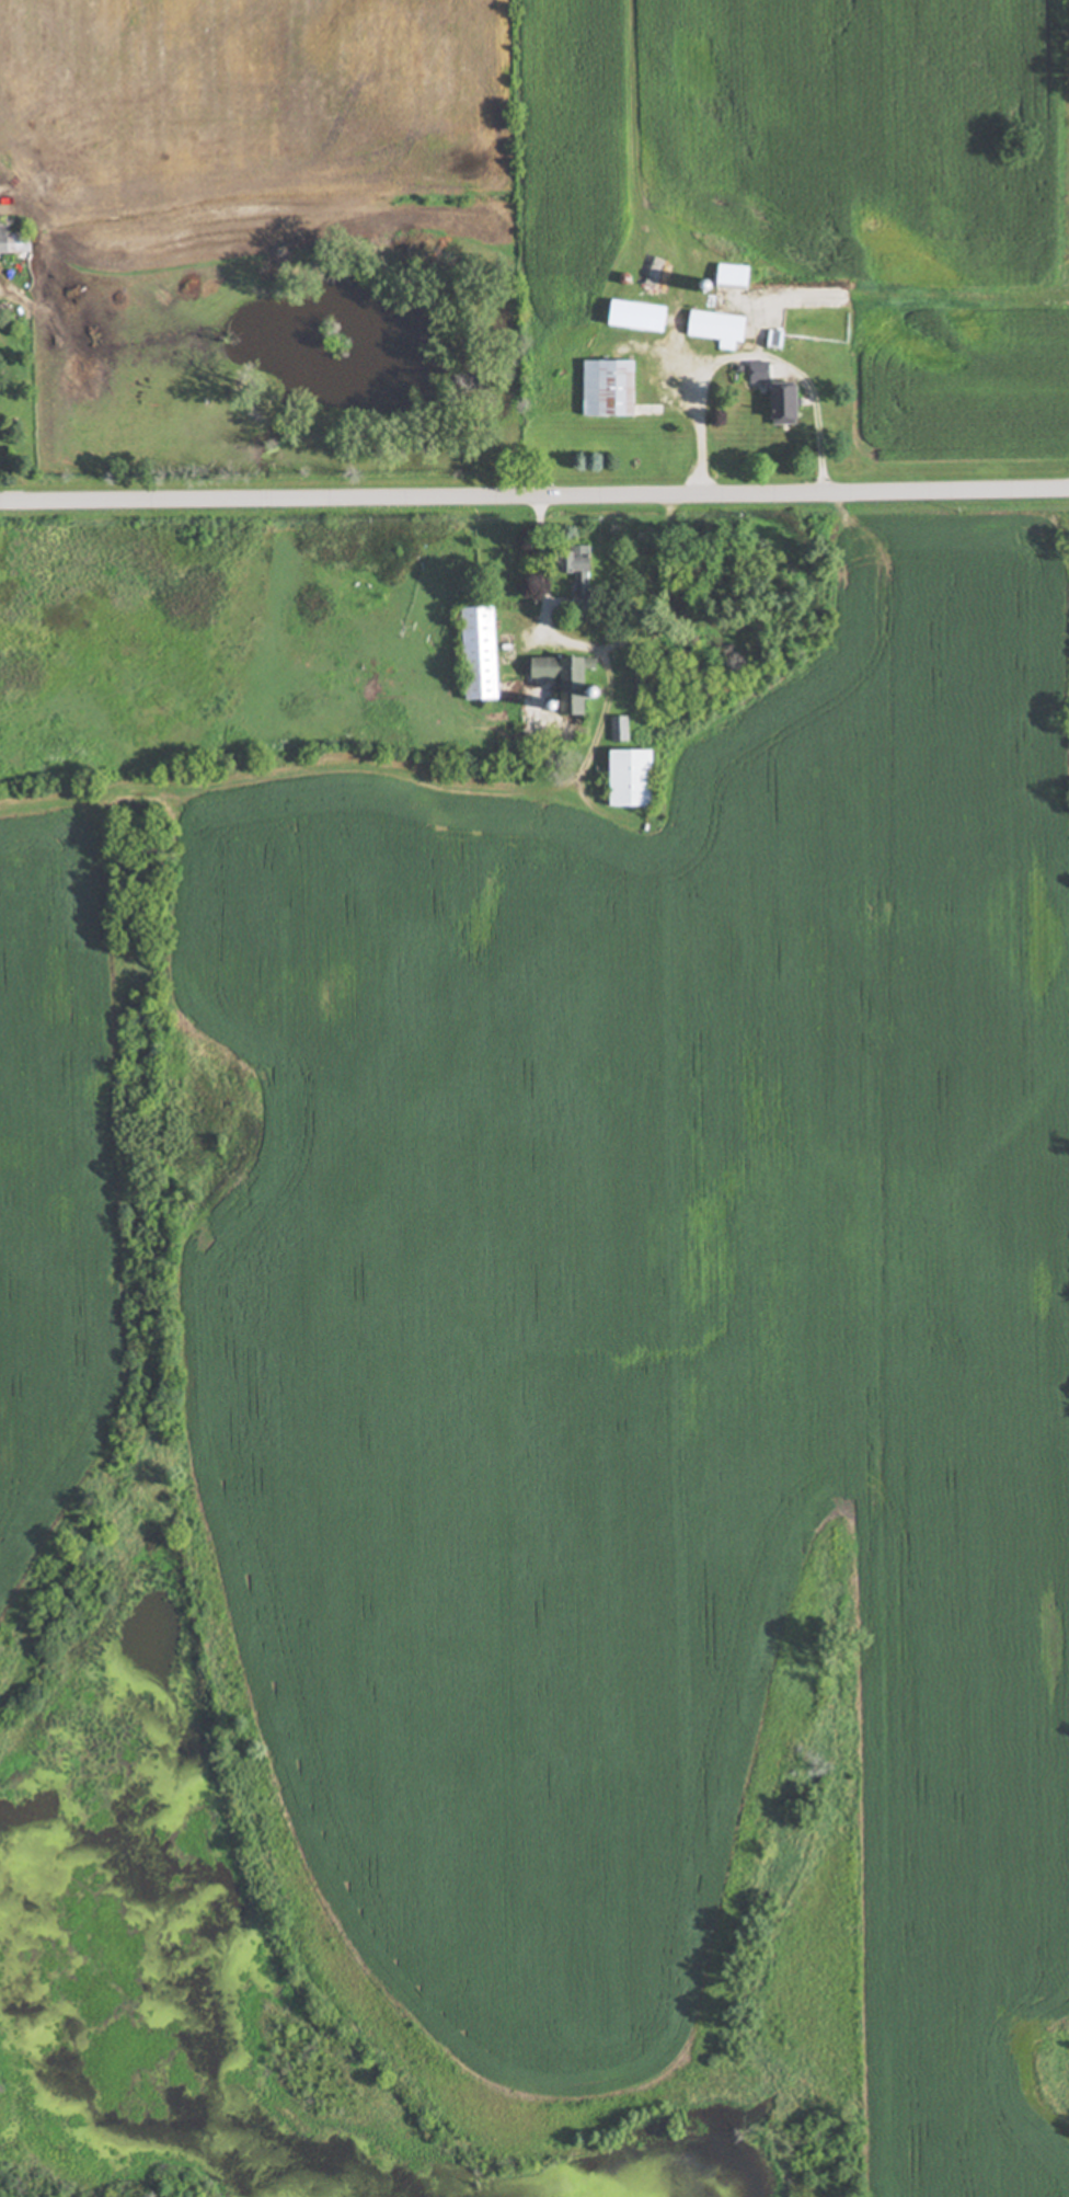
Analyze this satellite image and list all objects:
building: (14, 239)
building: (726, 276)
building: (652, 279)
building: (631, 317)
building: (714, 329)
road: (748, 356)
building: (606, 388)
building: (775, 405)
road: (533, 492)
building: (570, 569)
building: (474, 654)
building: (558, 696)
building: (617, 730)
building: (623, 778)

